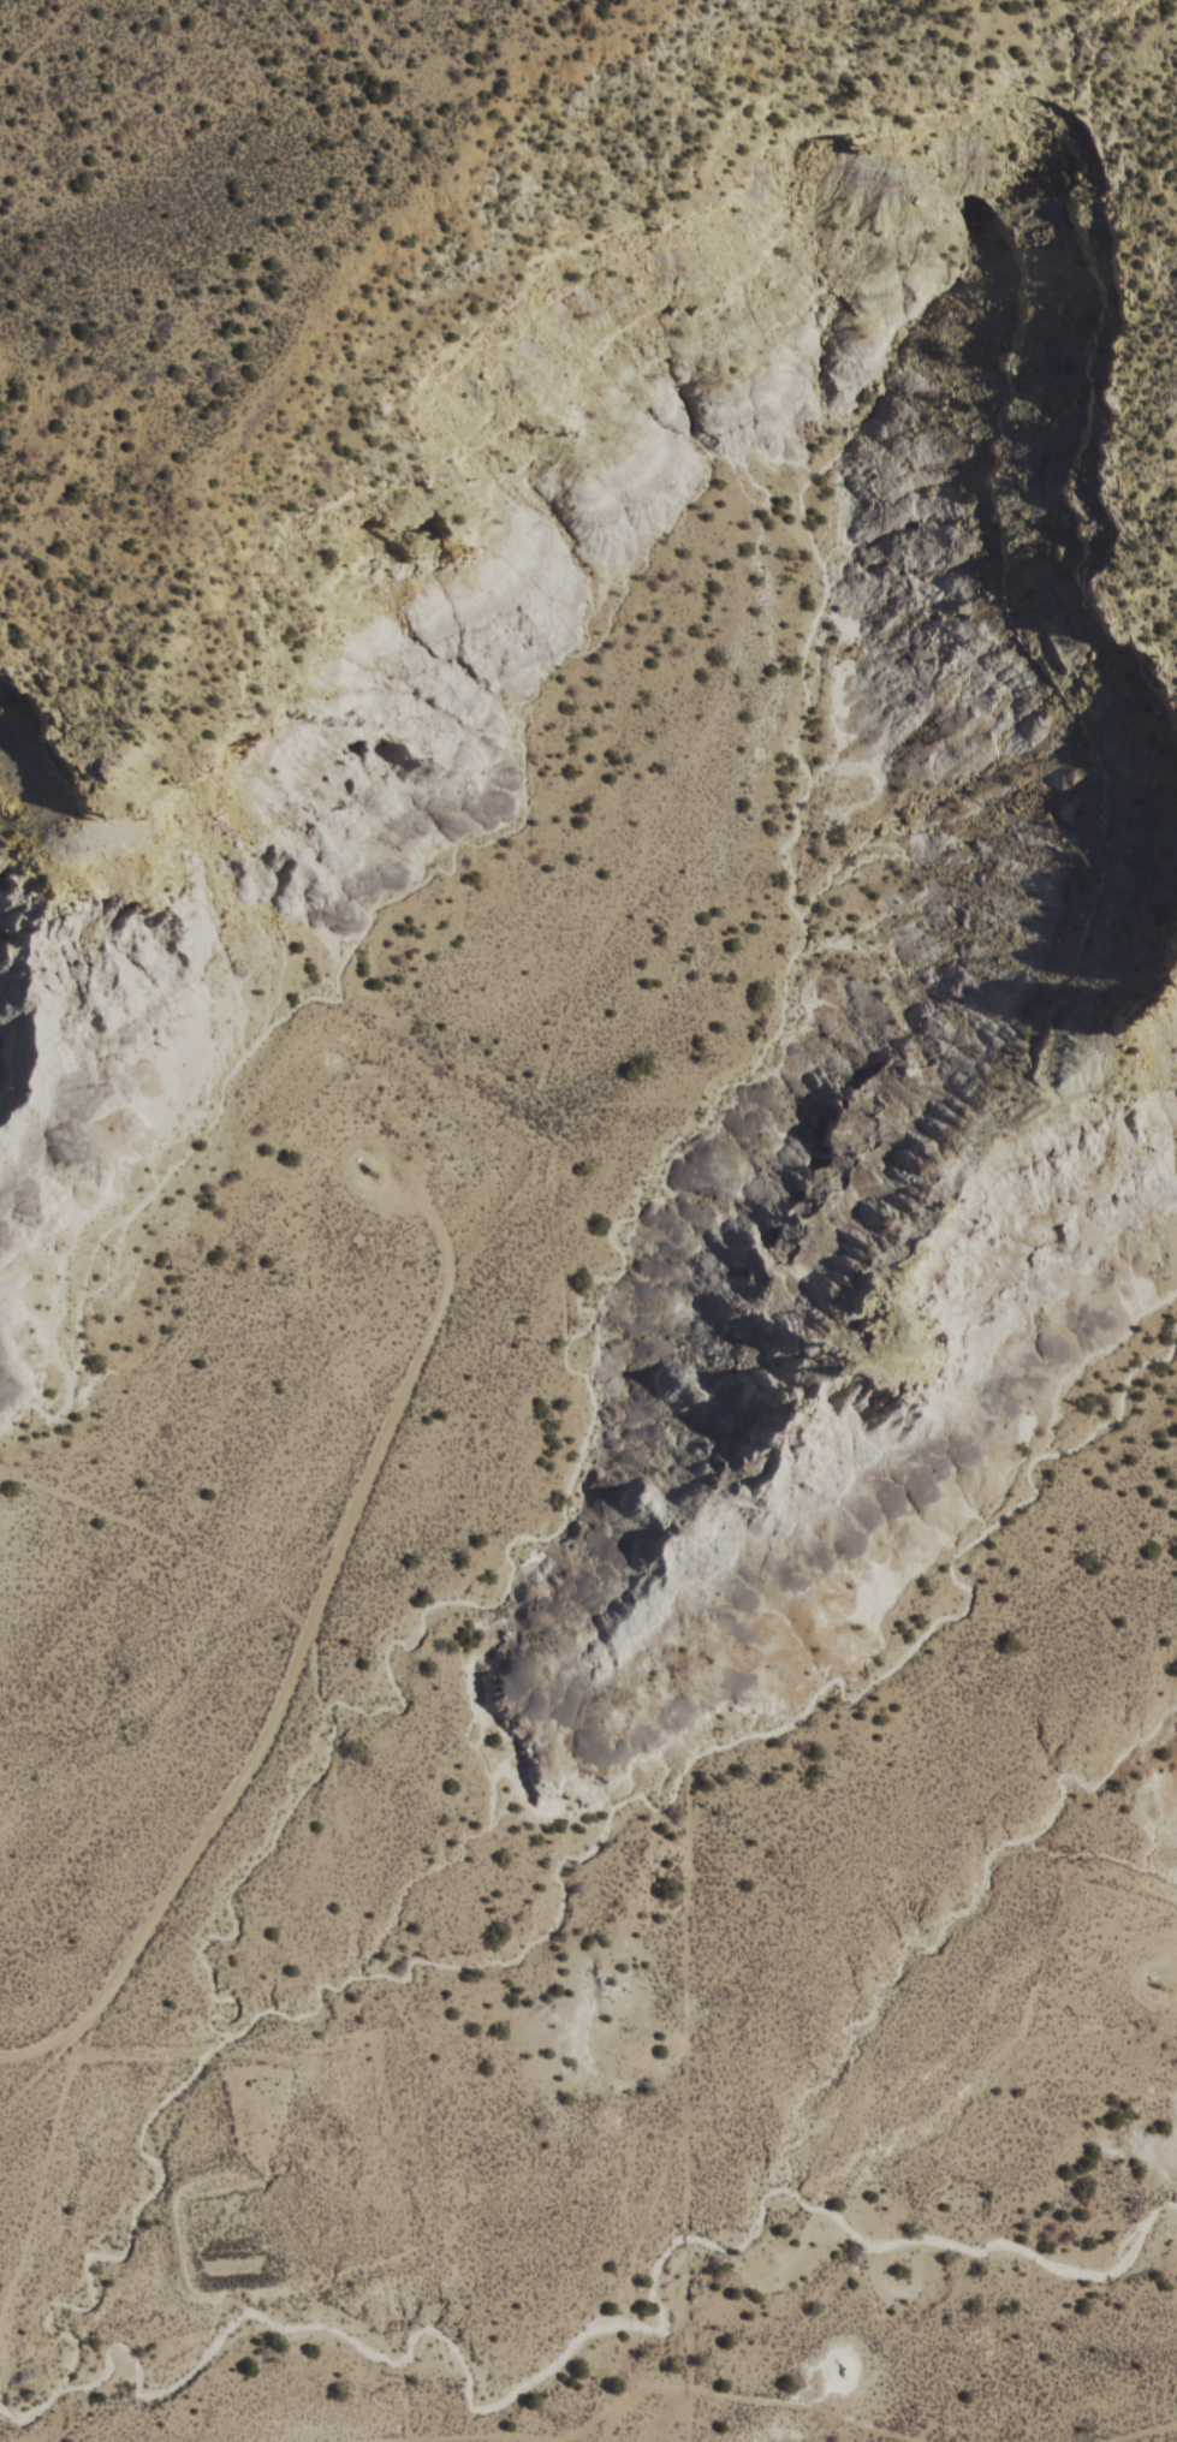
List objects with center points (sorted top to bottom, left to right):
road: (239, 2260)
road: (862, 2392)
road: (569, 2435)

